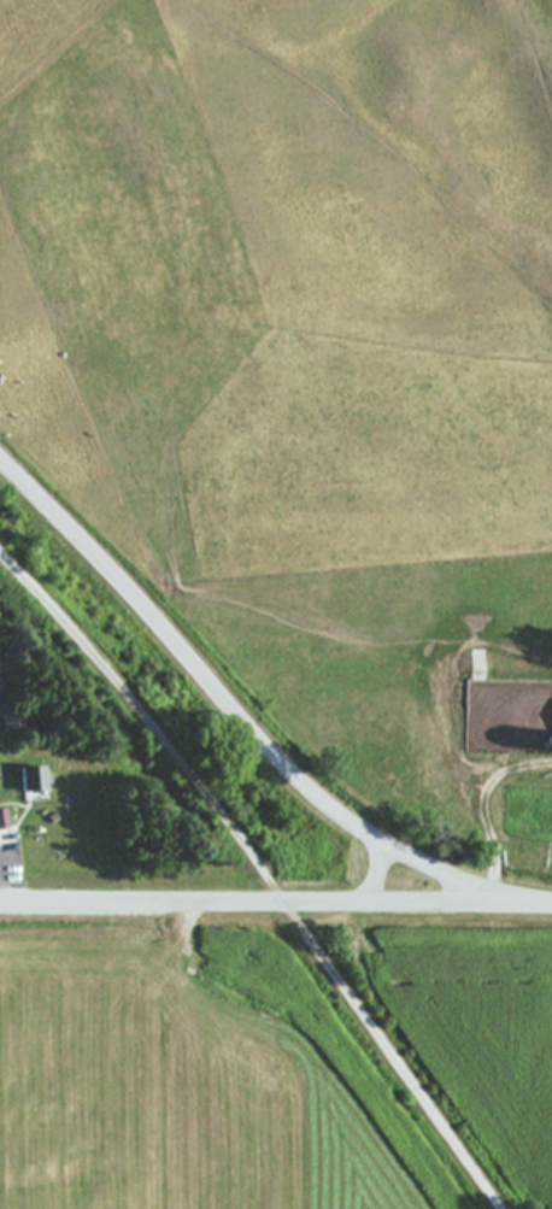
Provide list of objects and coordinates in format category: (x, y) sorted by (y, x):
road: (247, 722)
building: (13, 723)
building: (30, 781)
building: (2, 821)
road: (264, 870)
road: (378, 873)
road: (257, 900)

